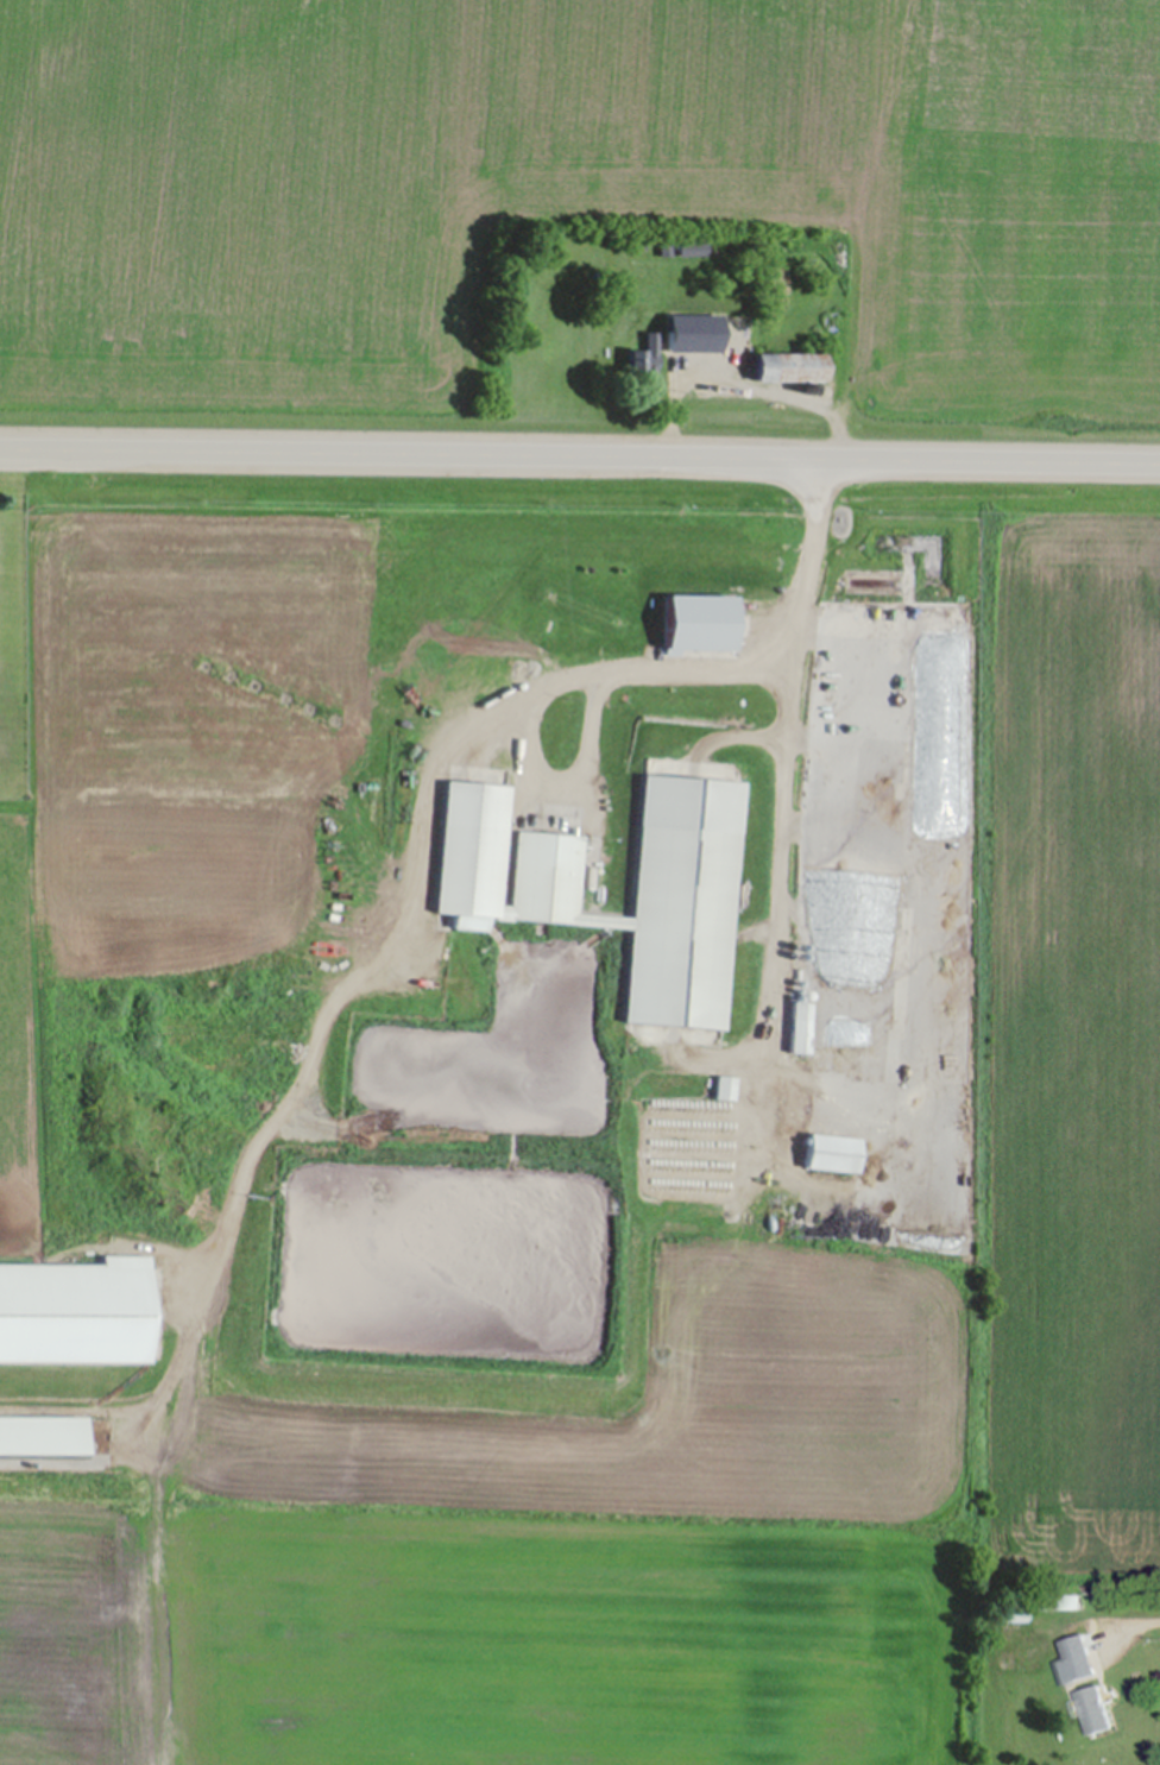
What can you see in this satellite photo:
building: (676, 340)
building: (645, 360)
building: (793, 370)
road: (580, 452)
building: (872, 607)
road: (792, 755)
road: (566, 773)
road: (420, 839)
building: (686, 871)
building: (801, 1028)
building: (724, 1090)
building: (834, 1155)
building: (1015, 1615)
road: (1130, 1631)
building: (1076, 1671)
building: (1097, 1713)

